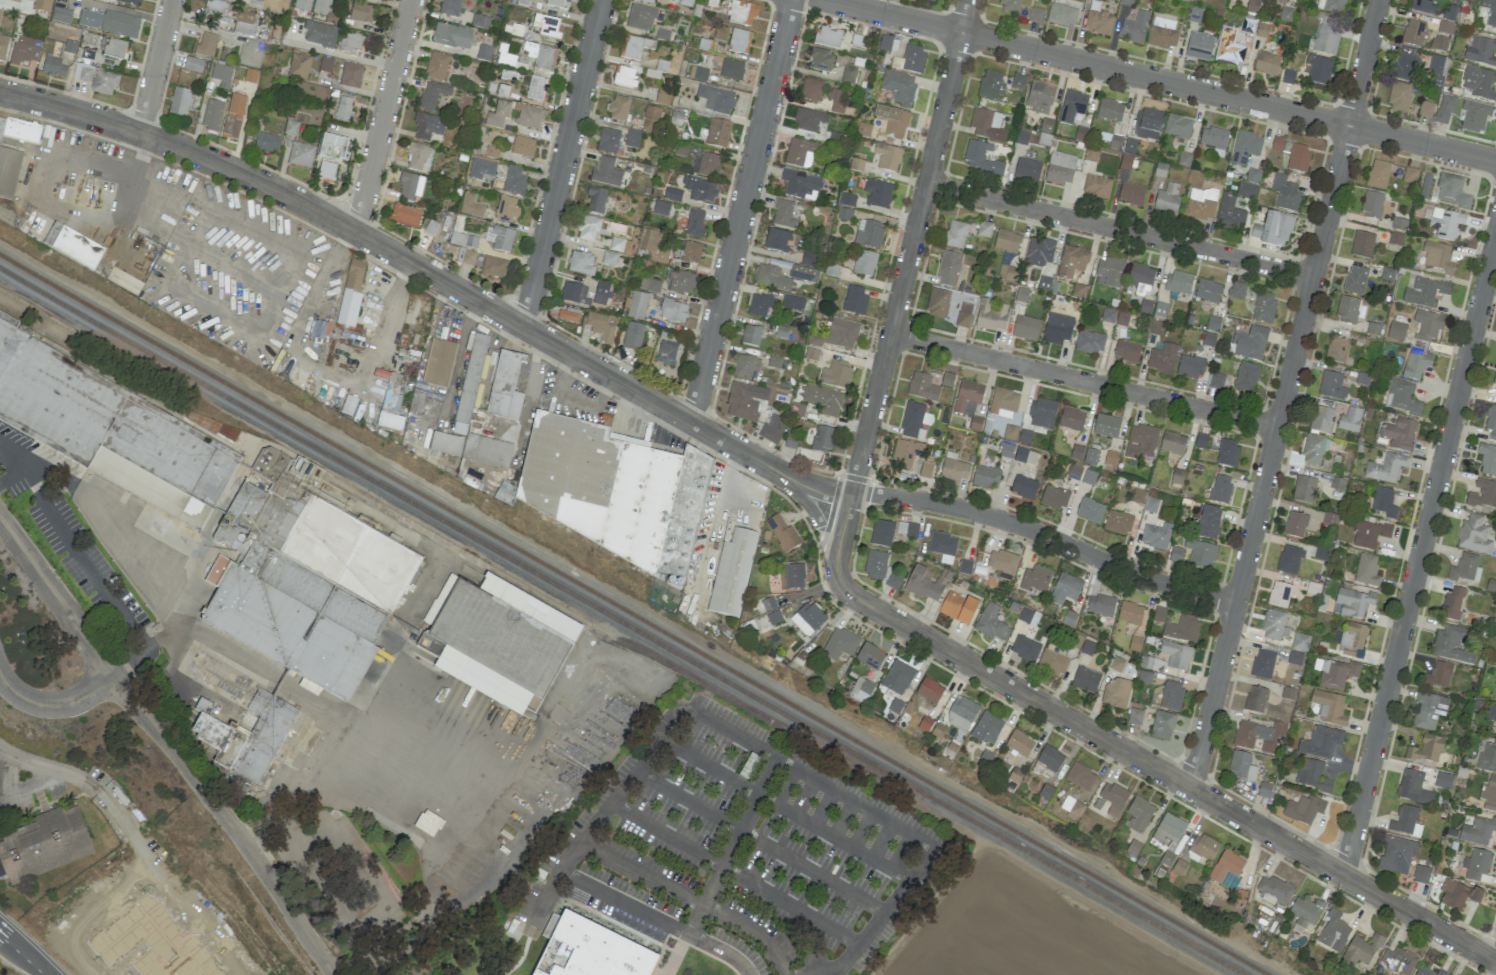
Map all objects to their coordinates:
building: (15, 0)
building: (109, 0)
building: (933, 0)
building: (1106, 0)
building: (1456, 0)
building: (645, 1)
building: (1282, 1)
building: (130, 2)
building: (1127, 2)
building: (558, 3)
building: (686, 3)
building: (41, 5)
building: (302, 5)
building: (1009, 5)
building: (1331, 5)
building: (321, 6)
building: (1422, 6)
building: (450, 7)
building: (216, 9)
road: (126, 11)
building: (1490, 11)
building: (0, 12)
building: (361, 13)
building: (742, 13)
building: (1061, 14)
building: (1286, 14)
building: (61, 15)
building: (1035, 15)
building: (641, 17)
building: (479, 21)
building: (109, 22)
building: (1098, 22)
building: (245, 24)
building: (1248, 25)
building: (547, 26)
building: (1134, 28)
building: (1262, 30)
building: (1163, 33)
building: (1413, 33)
building: (319, 35)
building: (452, 36)
building: (827, 36)
building: (1326, 36)
building: (739, 41)
building: (352, 43)
building: (885, 43)
building: (1439, 43)
building: (206, 44)
building: (634, 46)
building: (1199, 46)
building: (3, 47)
building: (115, 48)
building: (1229, 48)
building: (25, 50)
building: (1481, 51)
building: (484, 52)
building: (251, 53)
road: (344, 57)
building: (545, 58)
building: (821, 60)
building: (910, 60)
building: (1267, 63)
building: (326, 64)
building: (193, 65)
building: (1435, 65)
building: (53, 66)
building: (299, 66)
building: (436, 66)
building: (1404, 66)
road: (158, 67)
building: (731, 70)
building: (1320, 70)
building: (82, 72)
building: (220, 72)
building: (698, 73)
building: (250, 75)
building: (350, 75)
building: (848, 75)
building: (1288, 76)
building: (624, 77)
road: (1159, 79)
building: (1018, 81)
building: (1478, 82)
building: (104, 83)
building: (990, 84)
building: (898, 87)
building: (537, 88)
building: (811, 90)
building: (432, 95)
building: (1399, 96)
building: (1039, 97)
building: (716, 99)
building: (836, 100)
building: (179, 102)
building: (1072, 105)
building: (343, 108)
building: (618, 108)
building: (1425, 109)
building: (1110, 110)
building: (212, 115)
building: (497, 115)
building: (1475, 115)
building: (234, 116)
road: (387, 117)
building: (529, 117)
building: (651, 119)
building: (809, 120)
building: (892, 121)
building: (987, 124)
building: (1148, 124)
building: (428, 125)
building: (1178, 126)
building: (291, 127)
building: (19, 130)
building: (863, 130)
building: (717, 133)
building: (632, 138)
building: (1214, 139)
building: (608, 140)
building: (266, 142)
building: (1114, 142)
building: (1277, 143)
building: (523, 147)
building: (1245, 147)
building: (333, 148)
building: (800, 153)
building: (301, 155)
building: (416, 155)
building: (1091, 155)
building: (887, 157)
building: (1297, 157)
building: (981, 159)
building: (1184, 159)
building: (1126, 162)
road: (561, 163)
building: (705, 165)
building: (856, 165)
building: (1060, 168)
building: (326, 170)
building: (481, 170)
building: (1027, 170)
building: (9, 172)
building: (606, 172)
building: (1378, 174)
building: (1410, 175)
road: (46, 181)
building: (514, 181)
building: (801, 185)
building: (410, 186)
building: (1097, 186)
building: (1424, 186)
building: (699, 189)
building: (1246, 190)
building: (1452, 191)
building: (877, 193)
building: (1285, 193)
building: (672, 194)
building: (1131, 194)
building: (1167, 199)
building: (596, 200)
building: (848, 200)
building: (1199, 205)
building: (1372, 205)
building: (471, 206)
building: (660, 207)
building: (506, 209)
road: (740, 211)
building: (784, 214)
building: (844, 214)
building: (1229, 214)
building: (405, 216)
building: (8, 217)
building: (1446, 222)
building: (695, 224)
building: (431, 228)
building: (588, 228)
building: (984, 229)
building: (1273, 229)
road: (1119, 230)
building: (868, 234)
building: (955, 234)
building: (460, 239)
building: (502, 239)
building: (1395, 239)
building: (777, 240)
building: (1007, 241)
building: (617, 243)
building: (1362, 244)
building: (73, 246)
building: (652, 246)
road: (911, 247)
building: (691, 252)
building: (1039, 252)
building: (468, 257)
building: (609, 257)
building: (1438, 257)
building: (1072, 261)
building: (581, 263)
building: (864, 263)
building: (494, 266)
building: (948, 269)
building: (1109, 271)
building: (803, 273)
building: (1007, 273)
building: (1387, 273)
road: (433, 277)
building: (771, 277)
building: (1355, 280)
building: (124, 281)
building: (679, 282)
building: (1179, 282)
building: (649, 284)
building: (1078, 290)
building: (1207, 290)
building: (1237, 290)
building: (351, 292)
building: (1425, 292)
building: (574, 293)
building: (601, 293)
building: (854, 299)
building: (793, 303)
building: (760, 304)
building: (637, 305)
building: (949, 306)
building: (1264, 307)
building: (1347, 309)
building: (673, 311)
building: (568, 315)
building: (991, 315)
building: (1108, 315)
building: (1122, 318)
building: (1428, 325)
building: (600, 326)
building: (1025, 327)
building: (1156, 327)
building: (1057, 328)
building: (317, 329)
building: (1375, 329)
building: (1396, 331)
building: (837, 334)
building: (751, 335)
building: (633, 336)
building: (1090, 342)
building: (1249, 343)
building: (1127, 350)
road: (461, 351)
building: (666, 351)
building: (1338, 351)
building: (811, 354)
building: (1162, 358)
building: (439, 363)
building: (746, 365)
building: (1416, 365)
building: (1190, 367)
building: (836, 374)
building: (1246, 377)
building: (1494, 378)
building: (947, 379)
building: (1216, 380)
road: (1083, 381)
building: (35, 383)
building: (469, 384)
building: (1332, 385)
building: (505, 386)
building: (922, 387)
road: (528, 390)
road: (1283, 393)
building: (392, 394)
building: (1402, 396)
building: (968, 397)
building: (824, 400)
building: (745, 401)
building: (1003, 403)
building: (1042, 413)
building: (1072, 418)
building: (912, 420)
building: (1322, 420)
building: (1349, 420)
building: (390, 422)
building: (1491, 422)
building: (212, 425)
building: (1106, 425)
building: (772, 429)
building: (1010, 432)
building: (1400, 433)
building: (822, 439)
building: (1140, 441)
building: (1200, 441)
building: (1172, 443)
building: (445, 444)
building: (1313, 449)
building: (1006, 450)
building: (487, 451)
building: (1076, 452)
building: (1227, 452)
building: (903, 453)
building: (1025, 456)
building: (1091, 456)
road: (11, 457)
building: (188, 458)
building: (1487, 459)
building: (1110, 460)
building: (270, 464)
building: (1386, 468)
building: (926, 469)
building: (954, 469)
building: (1074, 472)
road: (11, 475)
building: (1177, 476)
building: (985, 477)
building: (1089, 477)
building: (1337, 483)
building: (1024, 487)
building: (149, 488)
building: (1220, 489)
building: (1304, 489)
building: (613, 493)
building: (1483, 494)
building: (1138, 496)
building: (1054, 497)
building: (1383, 502)
building: (1151, 505)
building: (1090, 510)
road: (816, 513)
road: (845, 522)
building: (1118, 522)
building: (1207, 522)
road: (720, 523)
building: (1296, 524)
building: (907, 529)
building: (781, 532)
building: (882, 533)
building: (1369, 534)
road: (1046, 535)
building: (1156, 535)
building: (1474, 535)
building: (943, 546)
road: (1419, 553)
building: (1176, 554)
building: (1200, 554)
building: (1289, 559)
building: (1002, 563)
building: (875, 565)
building: (1465, 568)
building: (1366, 570)
building: (731, 573)
road: (93, 575)
building: (794, 576)
building: (1034, 578)
building: (893, 581)
building: (924, 583)
building: (1065, 589)
building: (1279, 594)
building: (1354, 602)
building: (768, 603)
building: (1452, 603)
building: (1101, 605)
building: (958, 607)
building: (275, 608)
railway: (634, 613)
building: (1130, 613)
building: (1159, 614)
building: (1025, 615)
building: (807, 619)
railway: (621, 621)
building: (992, 623)
building: (1275, 625)
building: (1183, 629)
railway: (605, 636)
building: (1351, 640)
building: (1300, 642)
building: (840, 644)
building: (1135, 644)
building: (1451, 644)
building: (1025, 648)
building: (1176, 655)
building: (870, 656)
building: (1295, 658)
building: (1052, 663)
building: (1116, 664)
building: (1263, 664)
building: (1336, 673)
building: (1439, 675)
building: (897, 677)
building: (1086, 679)
building: (1495, 687)
building: (862, 688)
building: (929, 690)
building: (1116, 692)
building: (1171, 695)
building: (1255, 699)
road: (54, 706)
building: (1330, 707)
building: (1429, 710)
building: (961, 713)
building: (1491, 713)
building: (1135, 716)
building: (925, 723)
building: (1162, 725)
building: (987, 728)
building: (1250, 734)
building: (1495, 736)
building: (247, 738)
building: (1320, 742)
building: (1019, 743)
road: (169, 744)
building: (1426, 749)
building: (1487, 757)
building: (1050, 758)
road: (1151, 766)
building: (1241, 766)
road: (46, 775)
building: (1312, 775)
building: (1080, 776)
road: (817, 779)
building: (1443, 780)
building: (1413, 787)
building: (1489, 794)
building: (1113, 798)
building: (1303, 809)
road: (785, 810)
building: (1073, 810)
building: (1139, 814)
building: (1406, 821)
building: (1168, 829)
road: (744, 831)
building: (1477, 831)
road: (761, 840)
building: (43, 844)
building: (1203, 847)
building: (1396, 854)
building: (1477, 865)
building: (1227, 869)
building: (1421, 874)
road: (734, 875)
road: (653, 876)
building: (1273, 889)
building: (1457, 894)
building: (1306, 911)
road: (660, 921)
road: (700, 921)
crop: (1012, 932)
building: (1333, 932)
building: (153, 943)
building: (589, 950)
building: (1360, 950)
road: (21, 955)
building: (1398, 960)
building: (1427, 972)

